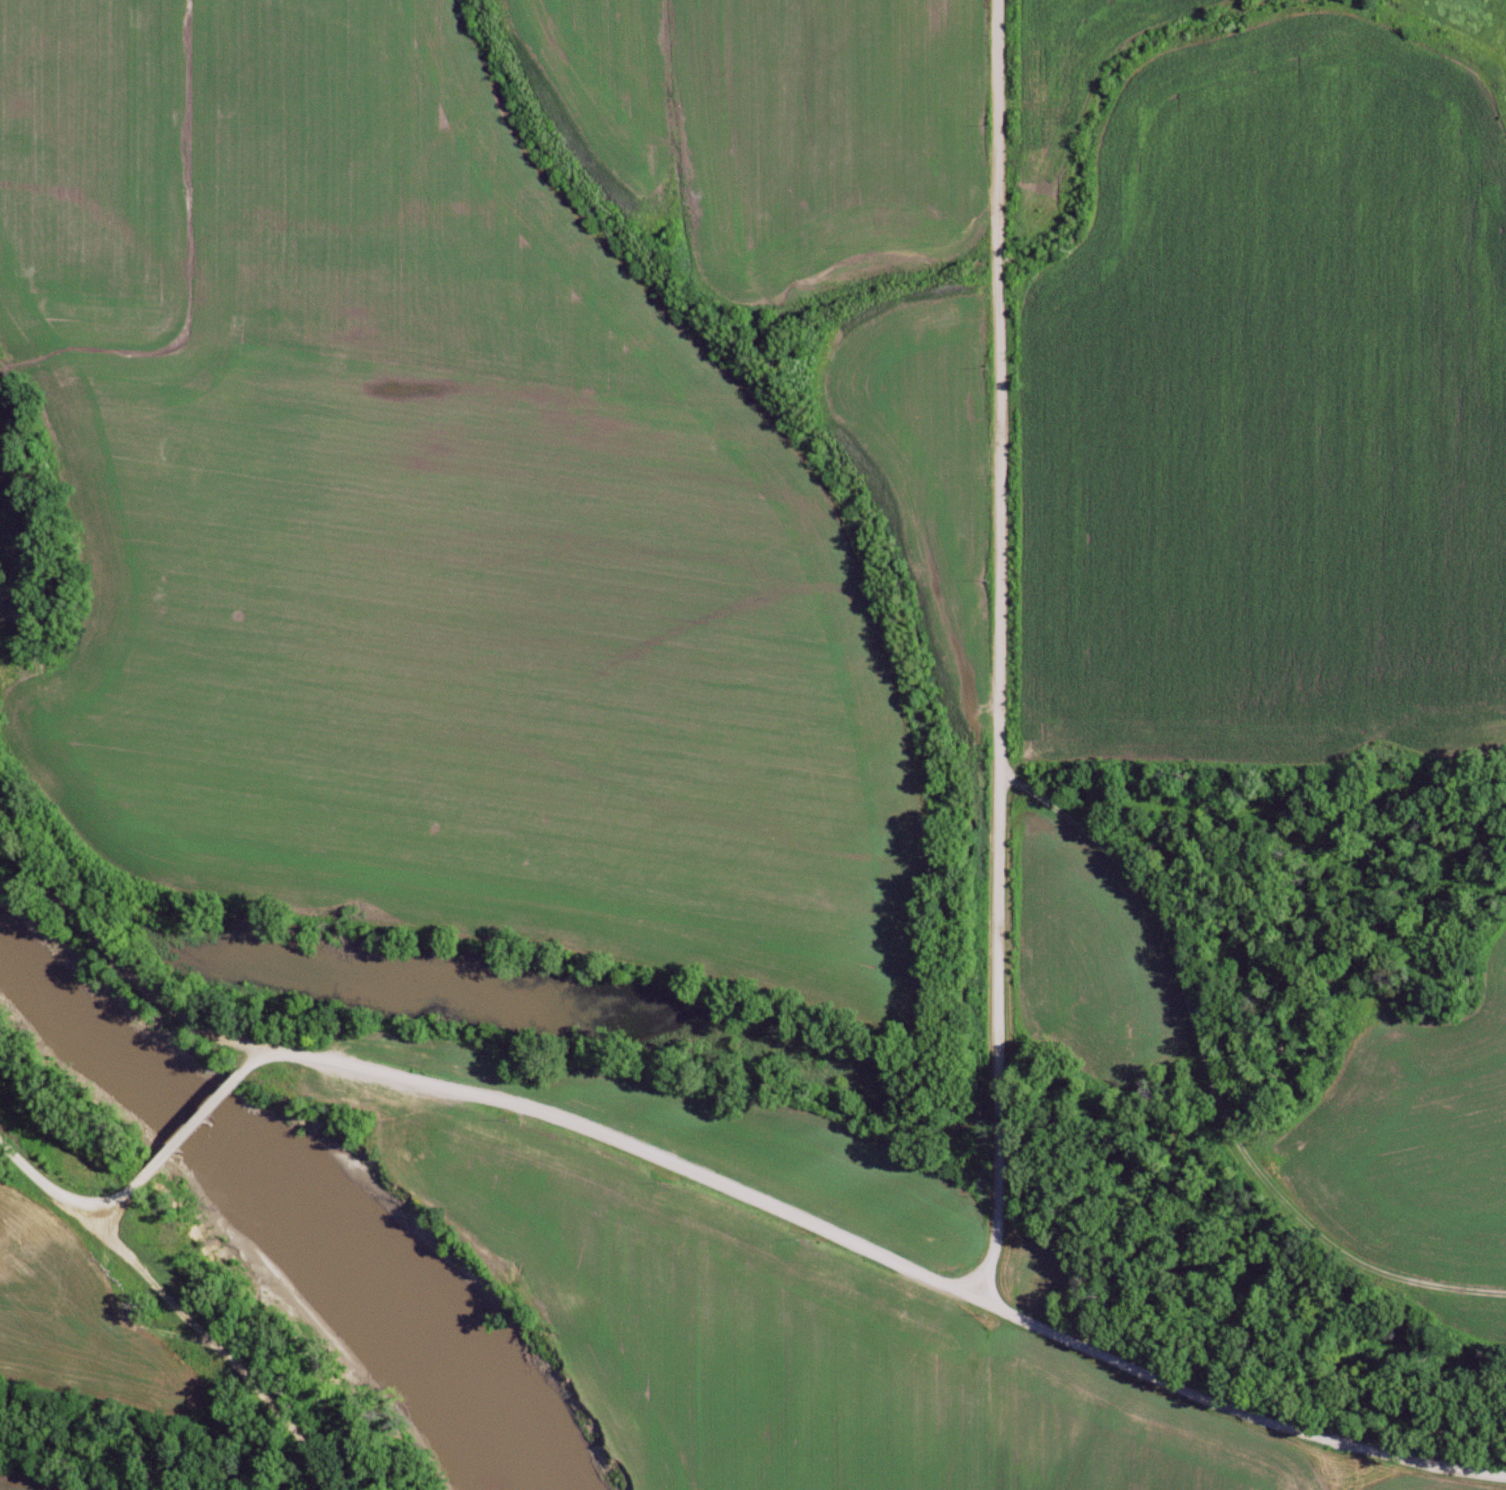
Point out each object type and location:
road: (997, 651)
road: (1225, 1069)
road: (195, 1126)
river: (283, 1203)
road: (74, 1205)
road: (878, 1255)

